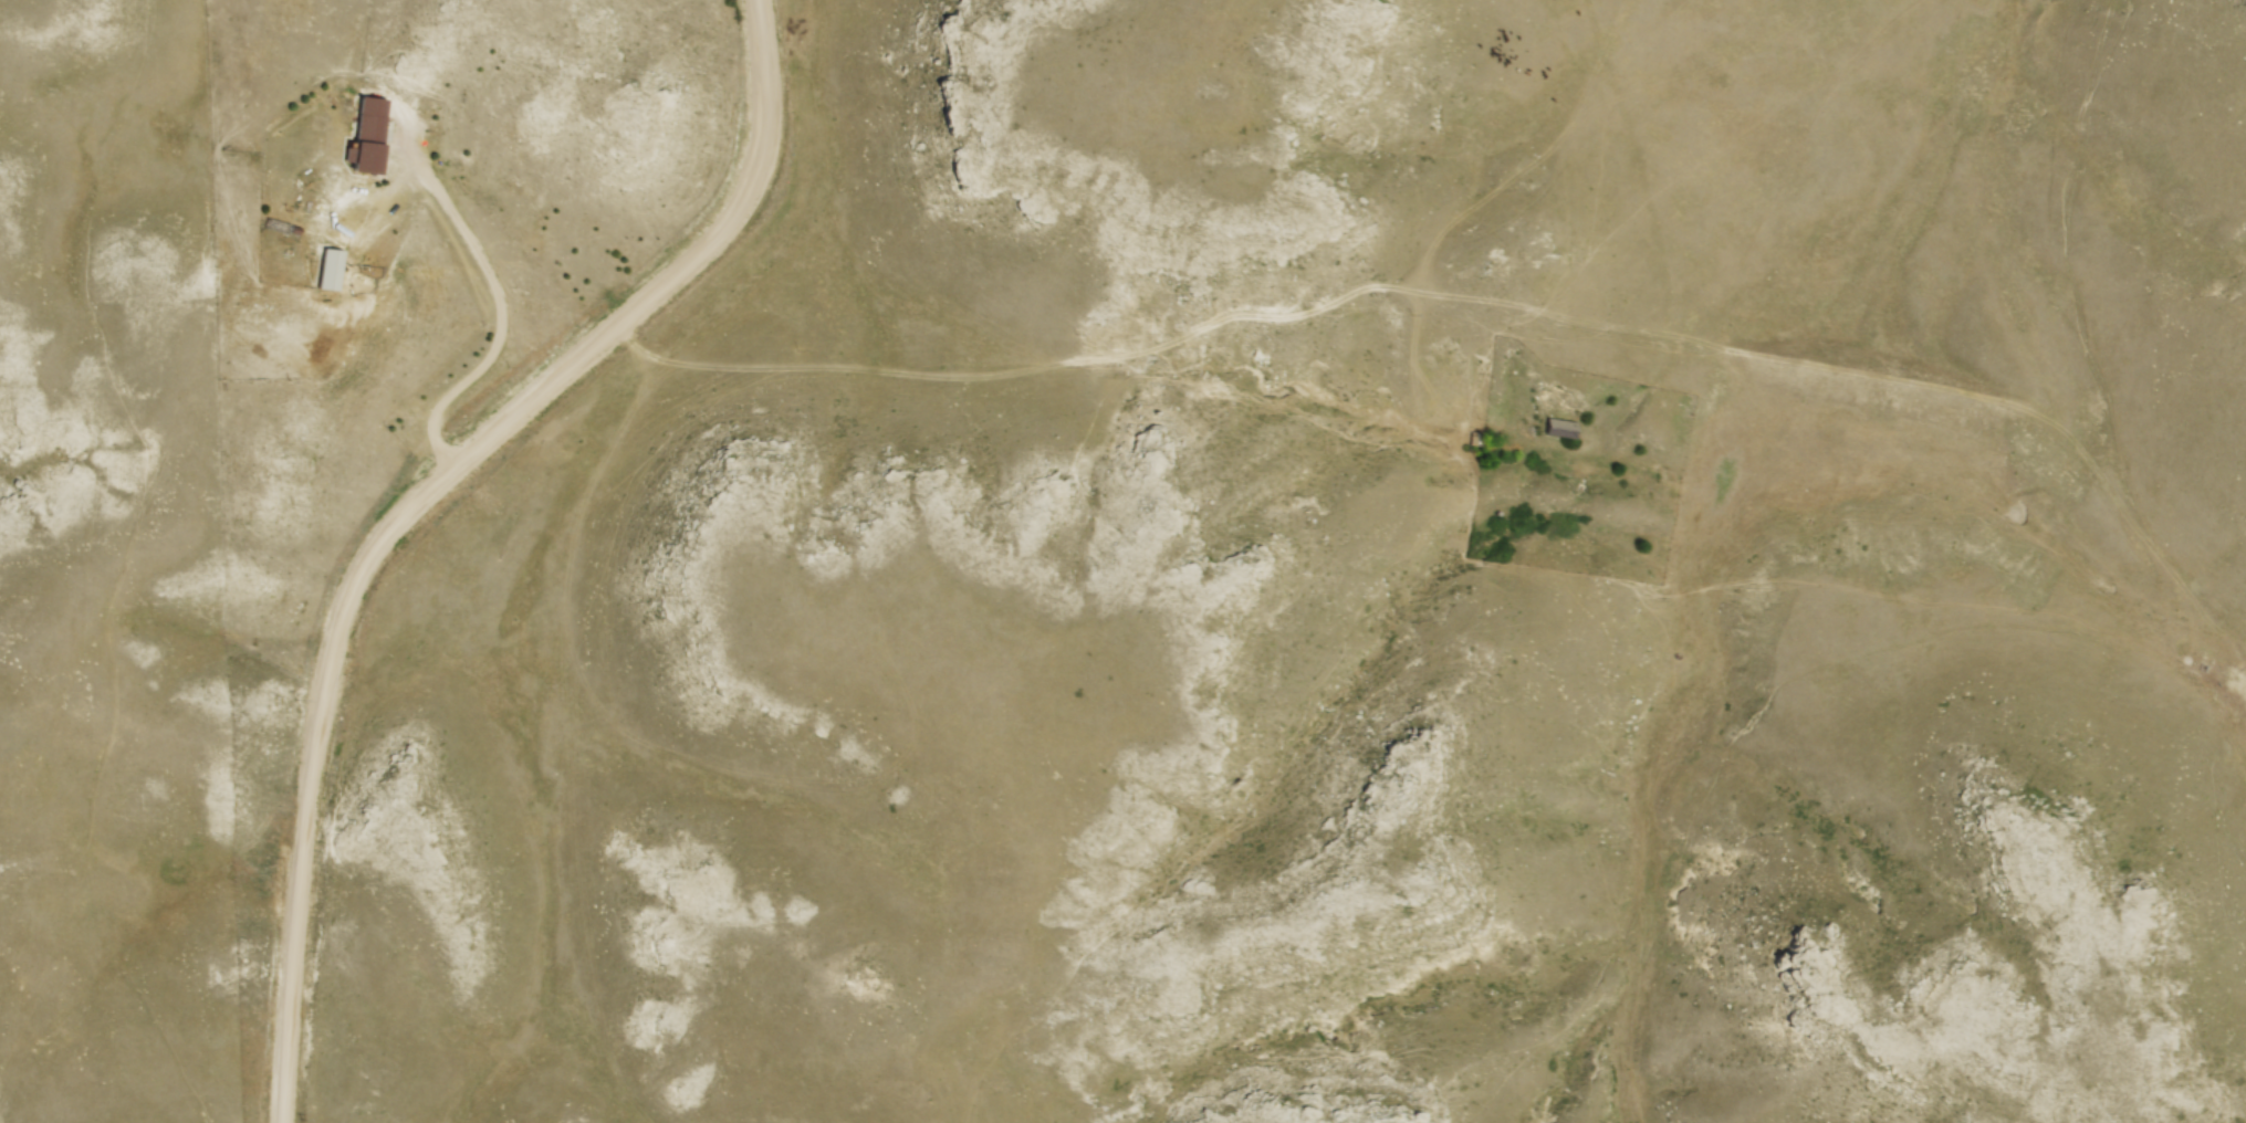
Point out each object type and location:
building: (363, 139)
building: (333, 265)
road: (495, 315)
dam: (1863, 381)
building: (1559, 427)
road: (414, 502)

